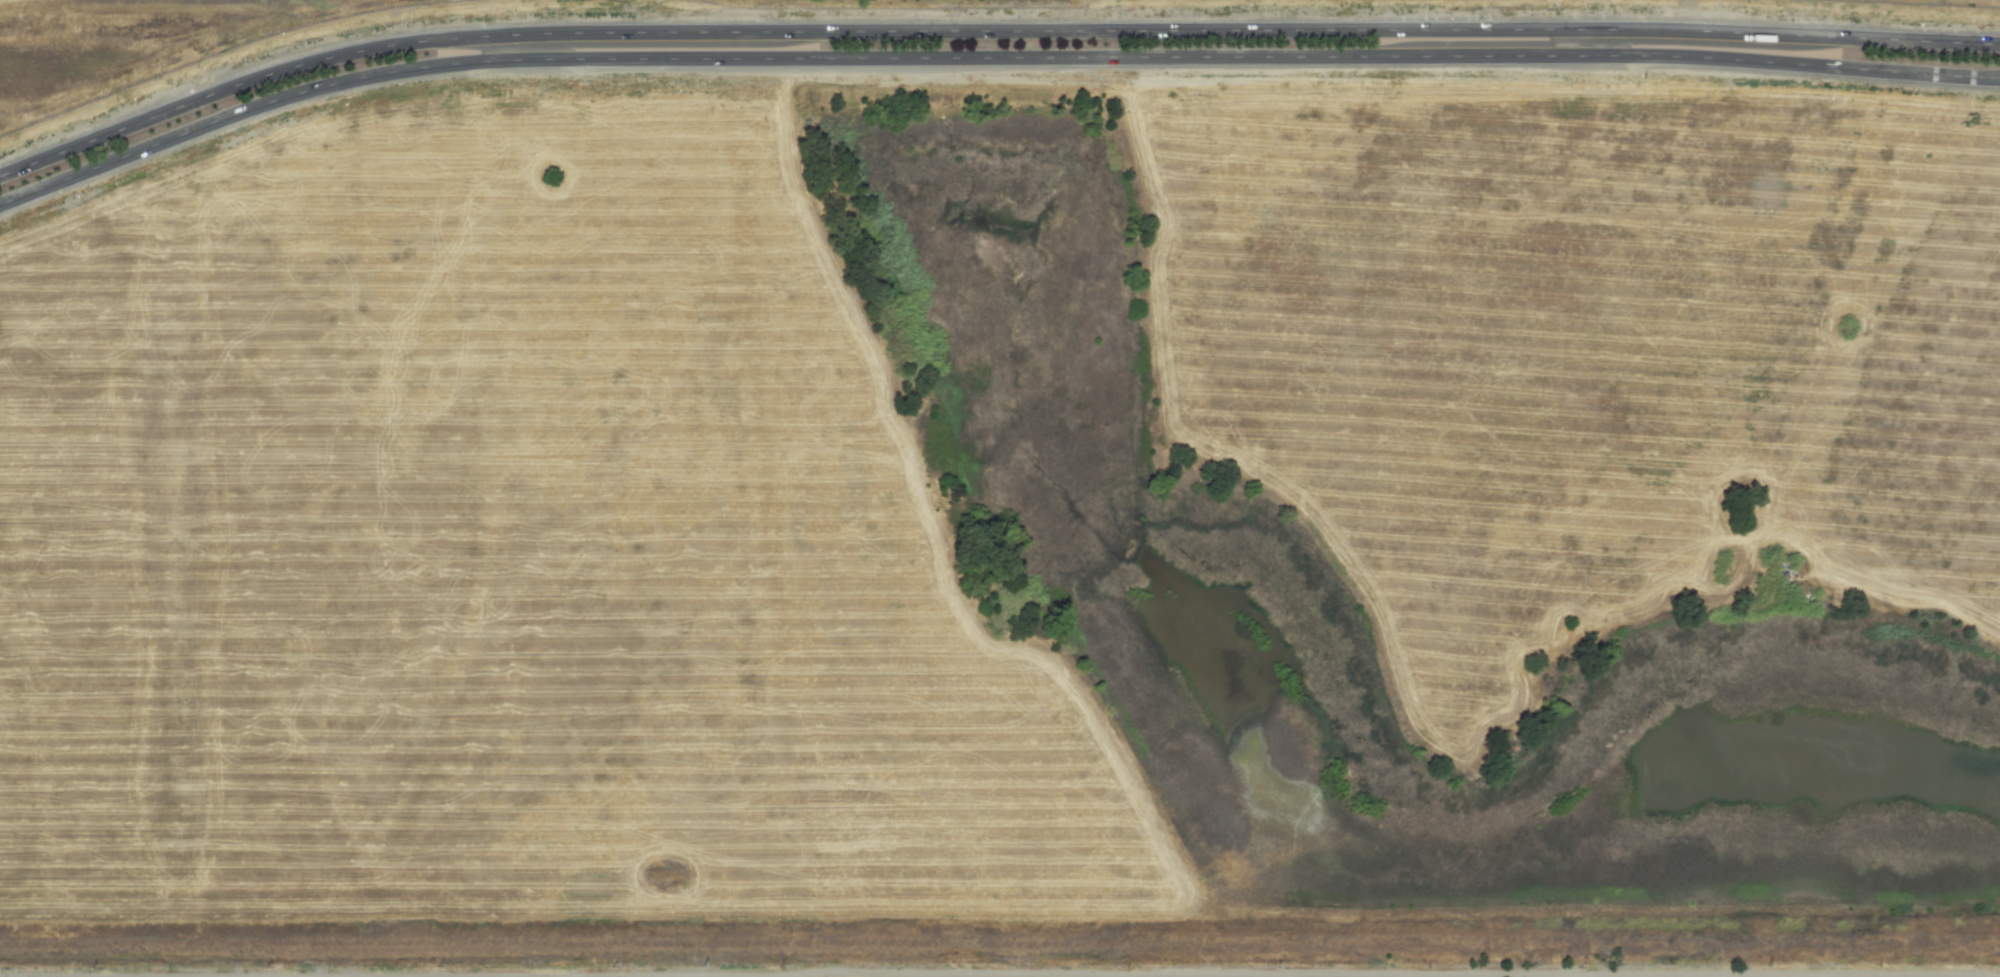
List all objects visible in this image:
road: (988, 30)
crop: (198, 45)
road: (988, 56)
crop: (1580, 353)
crop: (515, 564)
road: (1000, 971)

